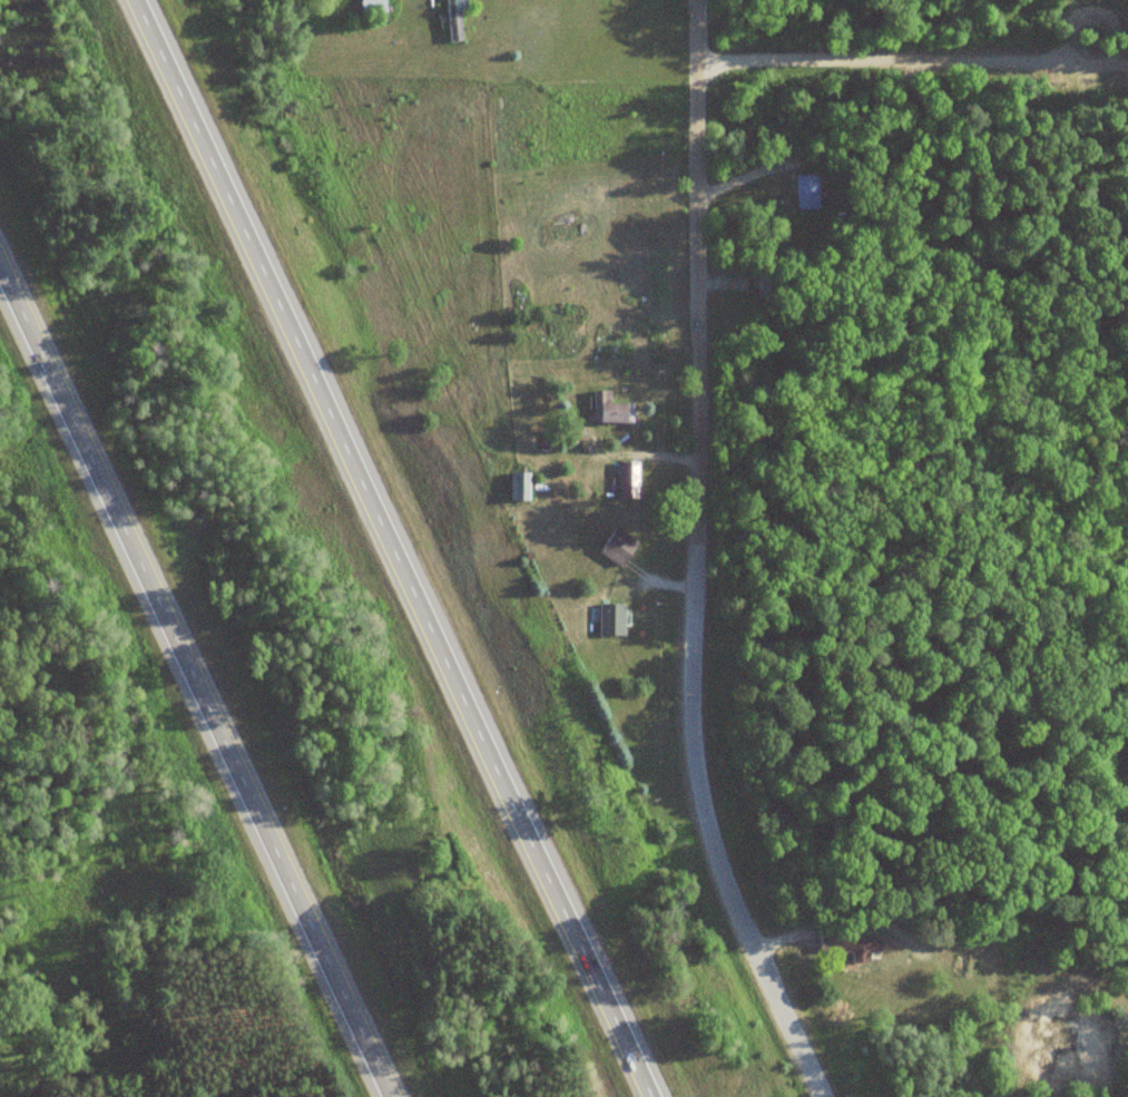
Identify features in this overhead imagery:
building: (371, 7)
building: (451, 21)
building: (804, 193)
building: (563, 334)
building: (607, 410)
building: (627, 480)
building: (517, 487)
building: (616, 547)
road: (404, 548)
road: (681, 562)
building: (615, 613)
road: (200, 672)
building: (850, 947)

